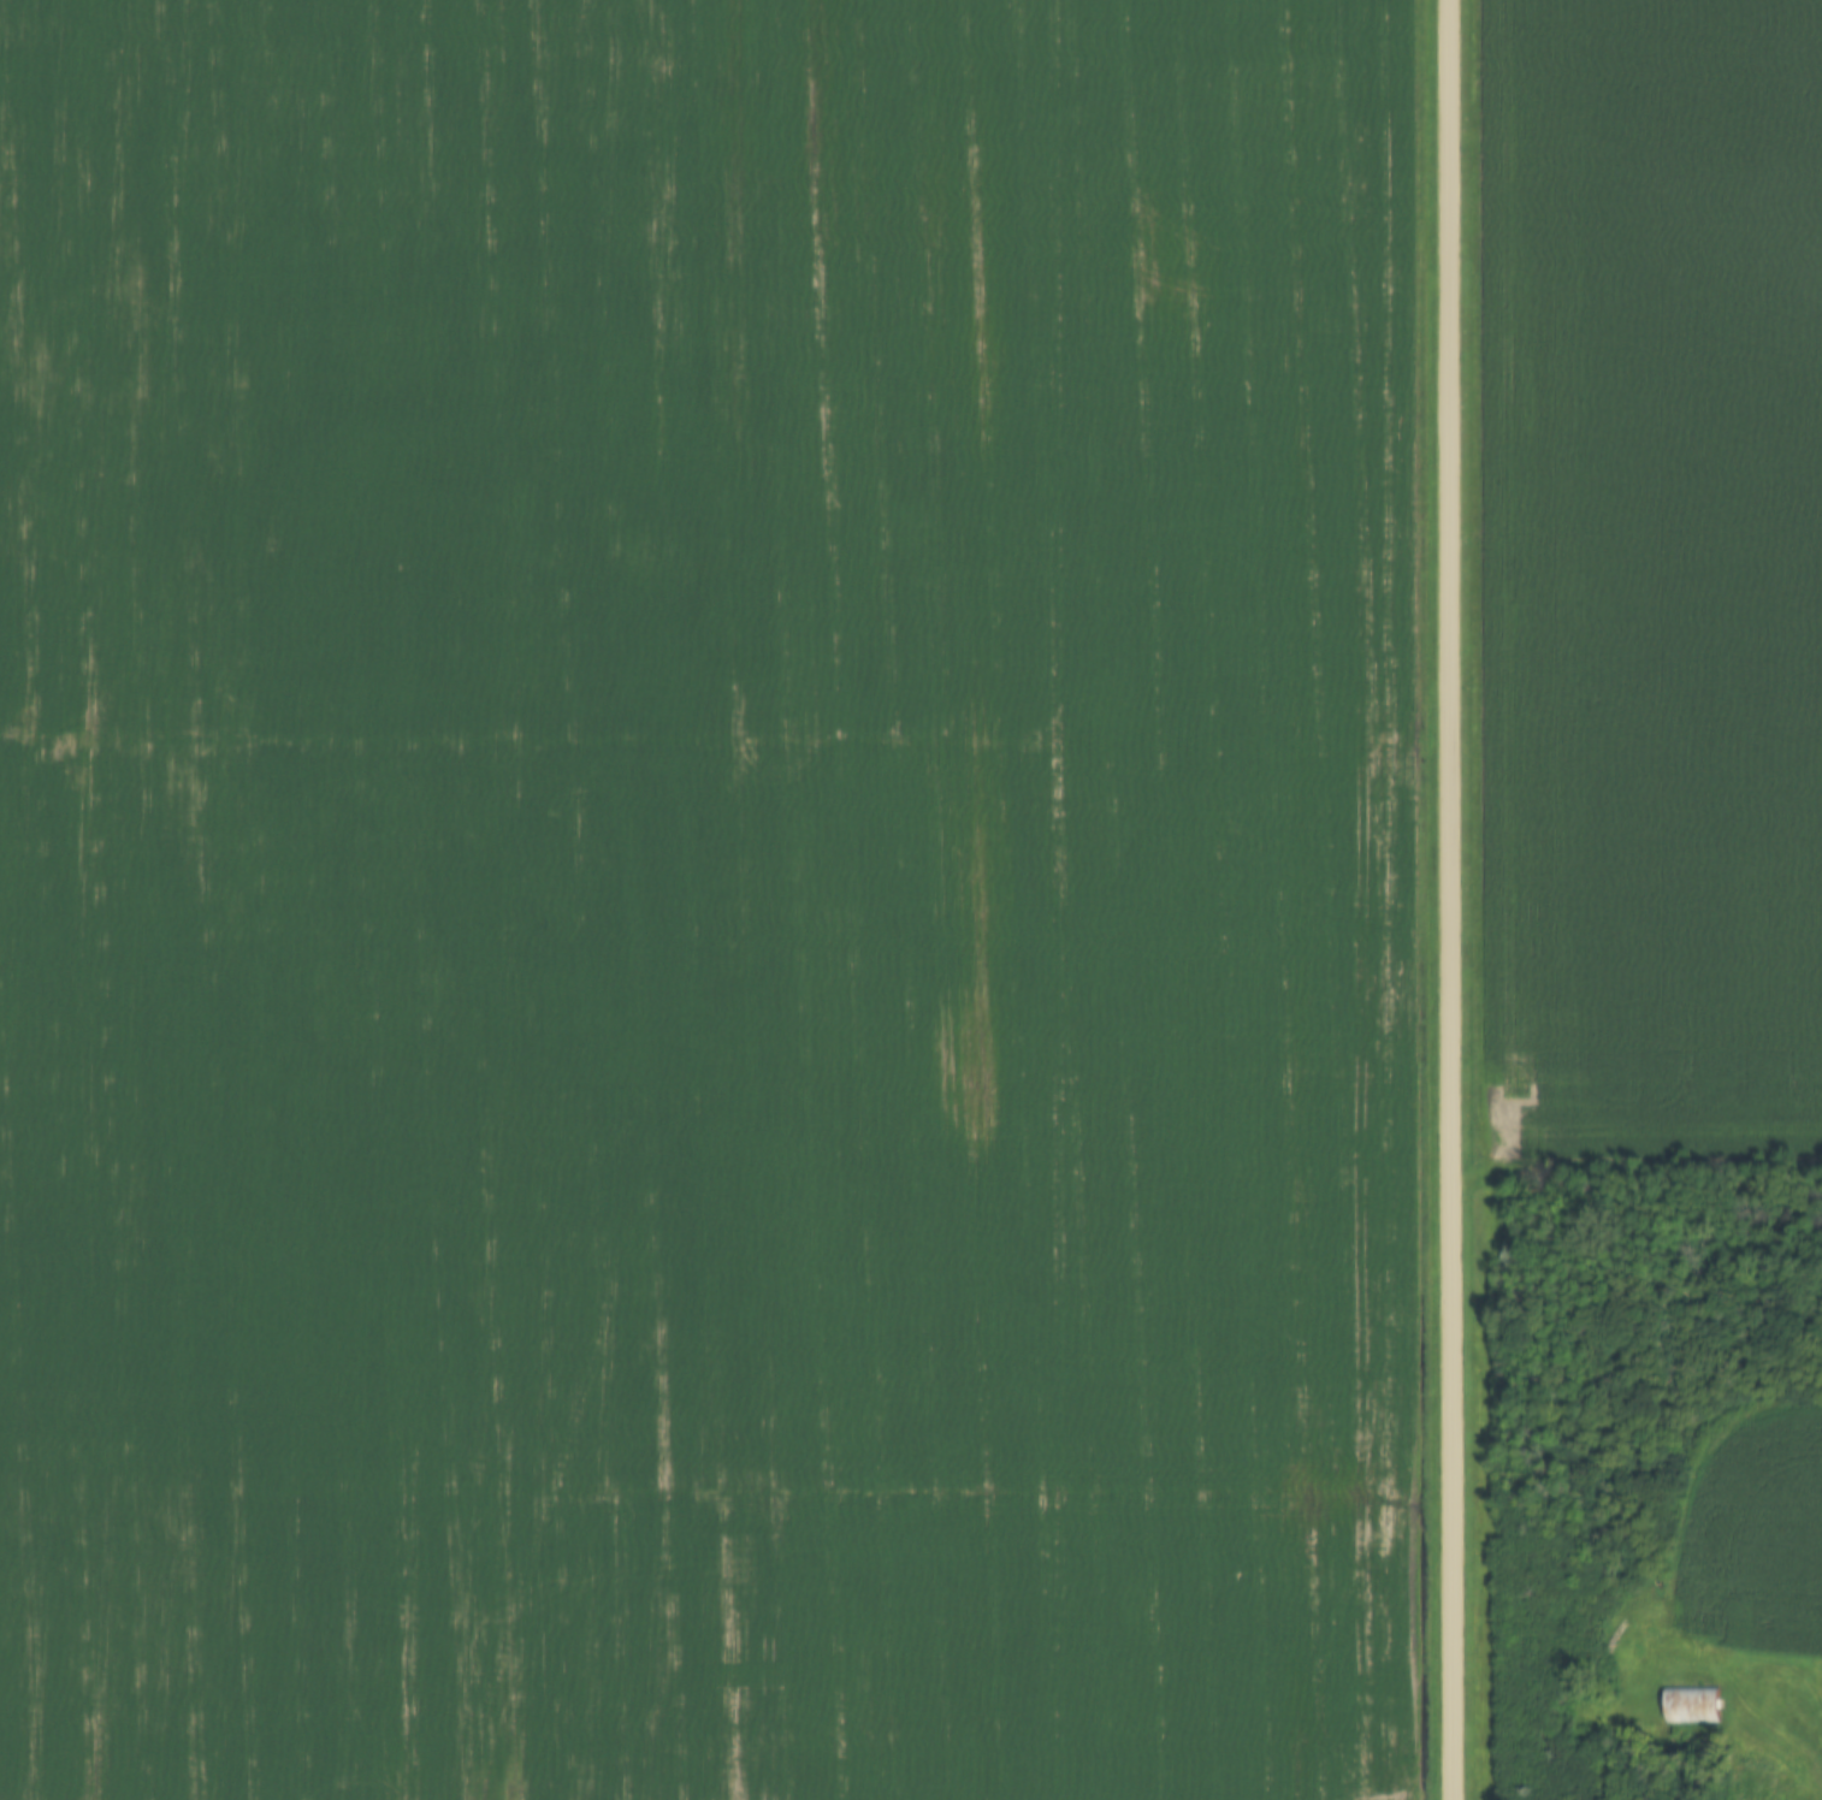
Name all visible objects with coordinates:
road: (1453, 900)
building: (1821, 1670)
road: (1756, 1698)
building: (1694, 1699)

